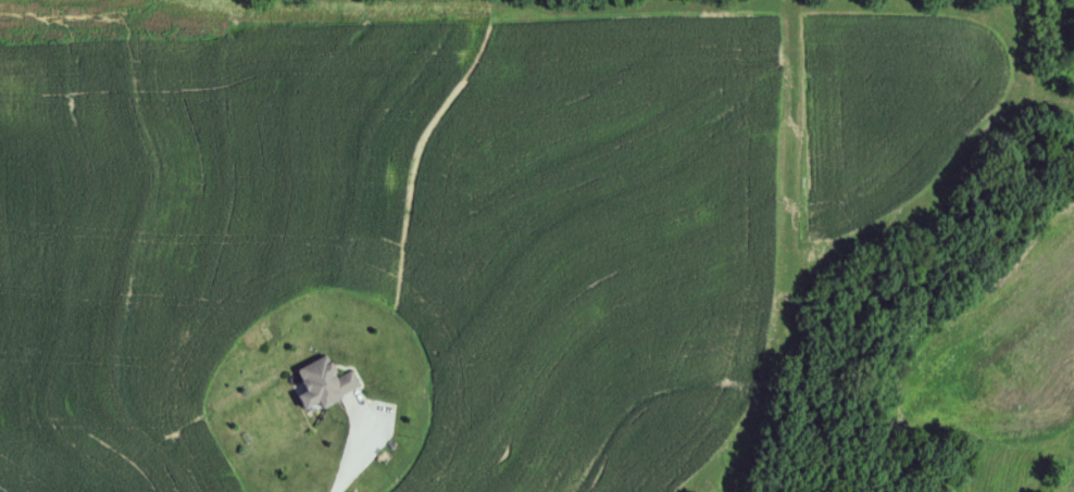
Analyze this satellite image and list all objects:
park: (872, 0)
building: (327, 383)

